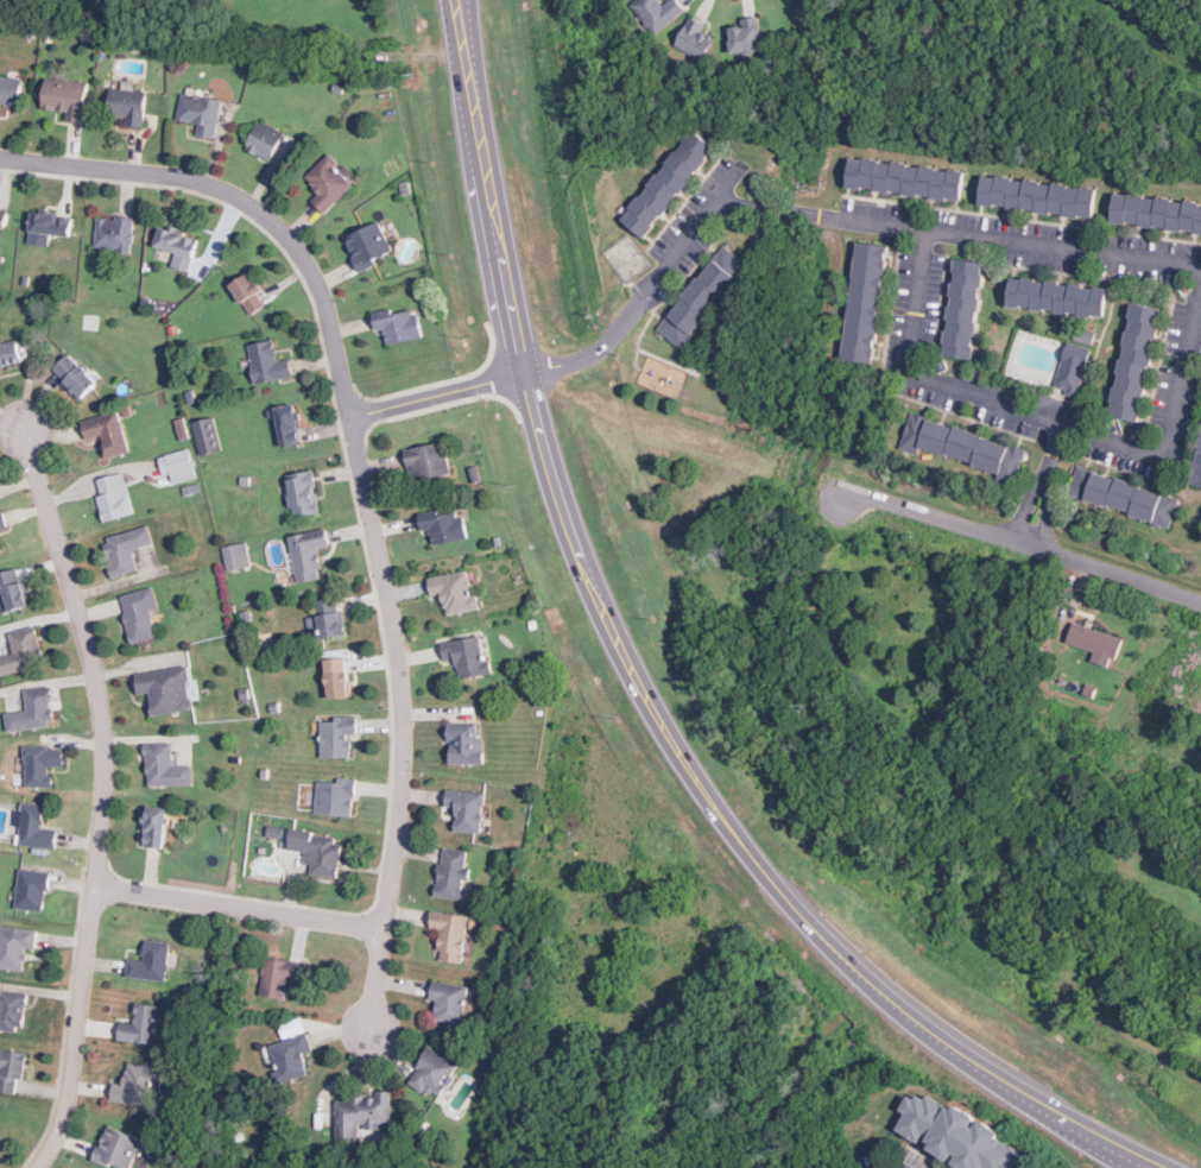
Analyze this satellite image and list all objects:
building: (657, 12)
road: (454, 25)
road: (464, 25)
building: (745, 36)
building: (694, 38)
building: (10, 90)
building: (65, 96)
building: (127, 103)
building: (200, 112)
building: (264, 140)
building: (905, 178)
building: (327, 182)
building: (668, 183)
building: (1036, 196)
building: (1156, 211)
building: (4, 217)
building: (48, 227)
building: (113, 233)
road: (960, 235)
building: (367, 245)
building: (177, 246)
building: (247, 292)
building: (701, 296)
building: (1056, 296)
building: (865, 301)
road: (633, 304)
building: (962, 308)
building: (396, 324)
building: (10, 353)
building: (266, 361)
building: (1134, 361)
building: (1072, 368)
building: (75, 375)
road: (437, 393)
road: (1049, 423)
building: (287, 425)
road: (353, 427)
building: (107, 431)
building: (206, 435)
building: (961, 446)
building: (426, 460)
building: (177, 466)
building: (1197, 467)
road: (1044, 484)
building: (302, 492)
building: (1123, 495)
building: (113, 497)
building: (2, 520)
building: (442, 525)
road: (1023, 537)
building: (126, 548)
building: (0, 550)
building: (308, 553)
building: (235, 555)
building: (12, 591)
building: (454, 591)
building: (139, 613)
building: (327, 619)
building: (1094, 642)
building: (23, 650)
building: (466, 656)
building: (335, 678)
building: (165, 689)
road: (652, 709)
building: (32, 711)
building: (337, 735)
building: (464, 744)
building: (40, 764)
building: (164, 766)
road: (101, 796)
building: (334, 796)
building: (466, 809)
building: (33, 826)
building: (154, 826)
building: (312, 848)
building: (453, 873)
building: (31, 889)
road: (239, 908)
building: (449, 934)
building: (15, 946)
building: (151, 961)
building: (278, 976)
road: (377, 977)
building: (448, 1000)
building: (12, 1010)
building: (140, 1024)
building: (291, 1027)
building: (289, 1056)
building: (11, 1068)
building: (432, 1072)
building: (138, 1085)
building: (362, 1113)
building: (955, 1134)
building: (116, 1148)
road: (870, 1167)

